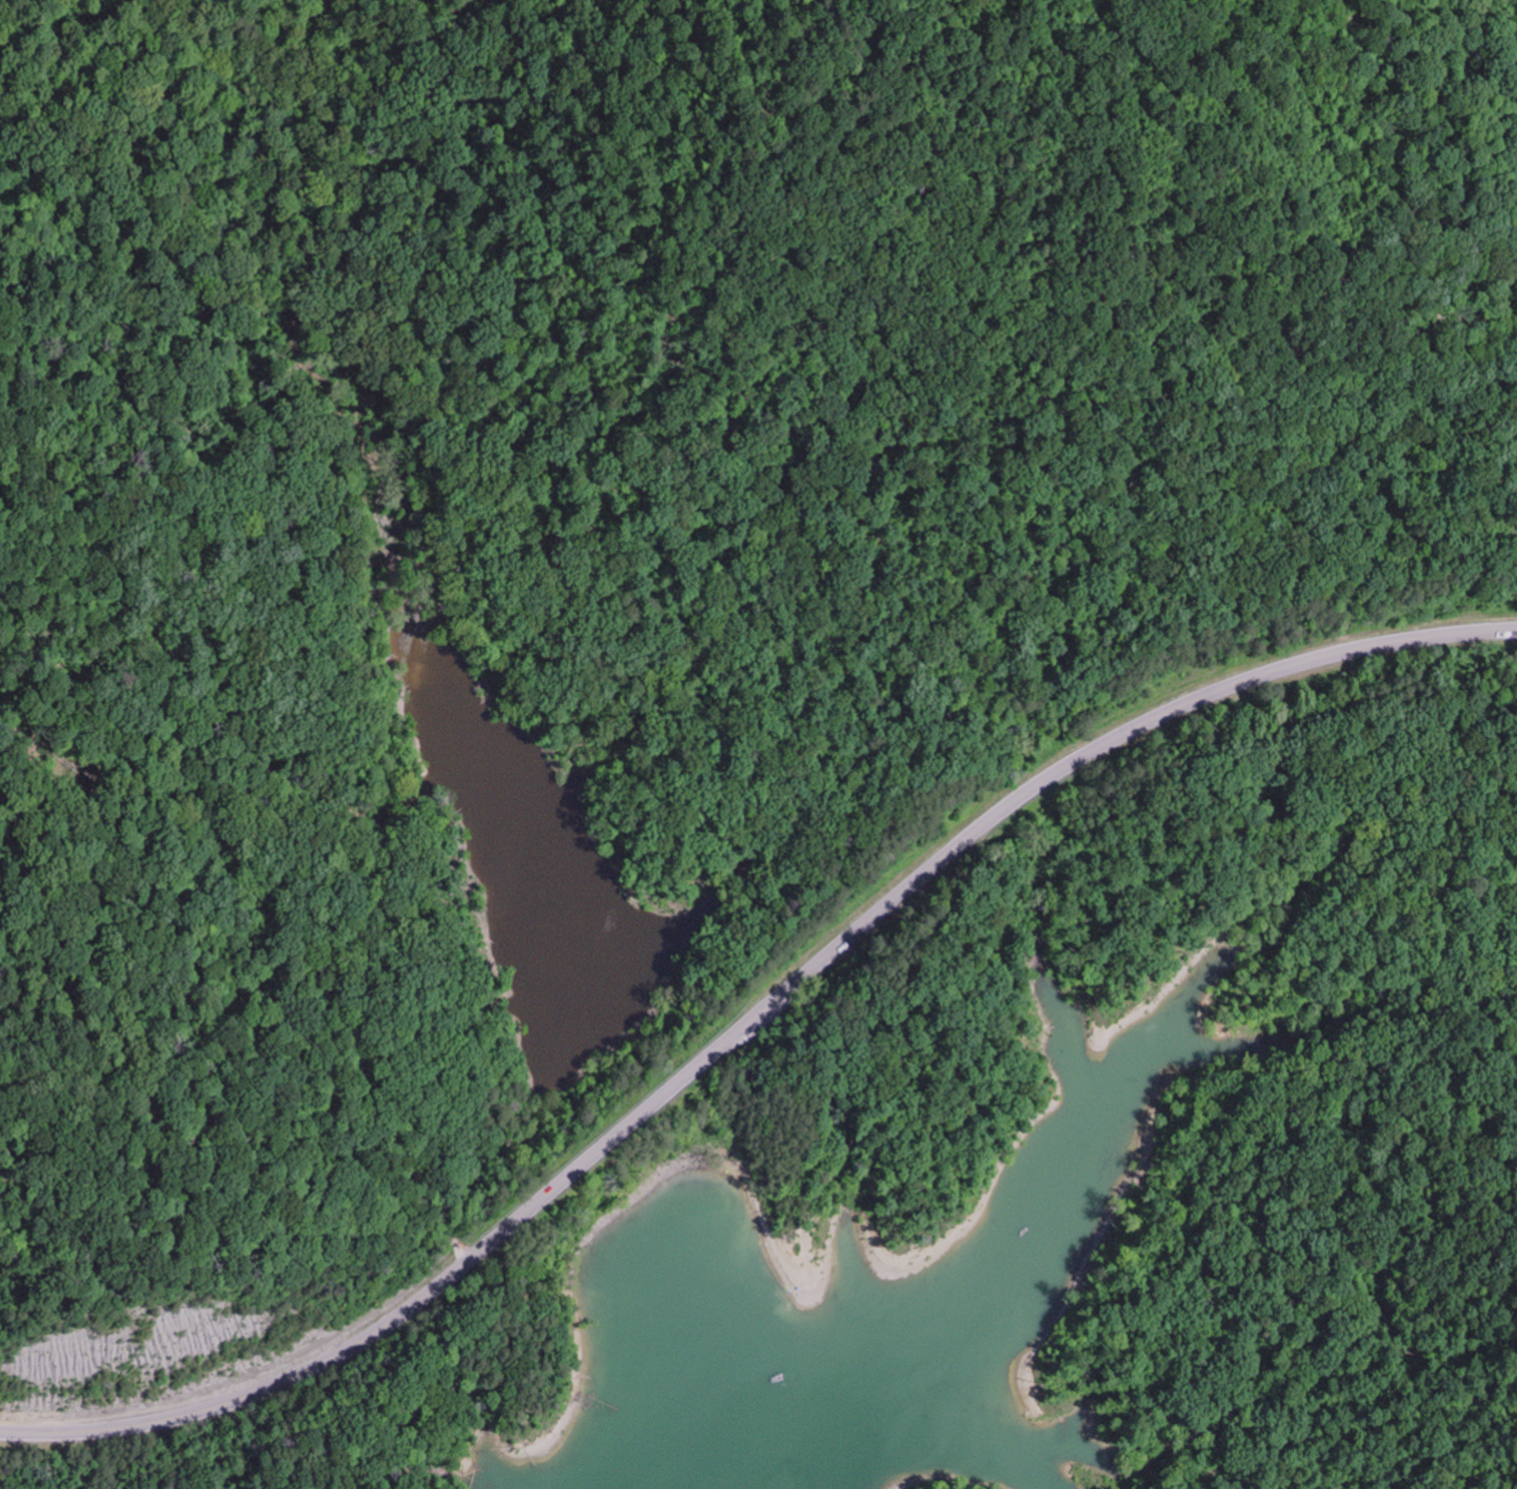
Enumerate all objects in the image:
road: (750, 1020)

